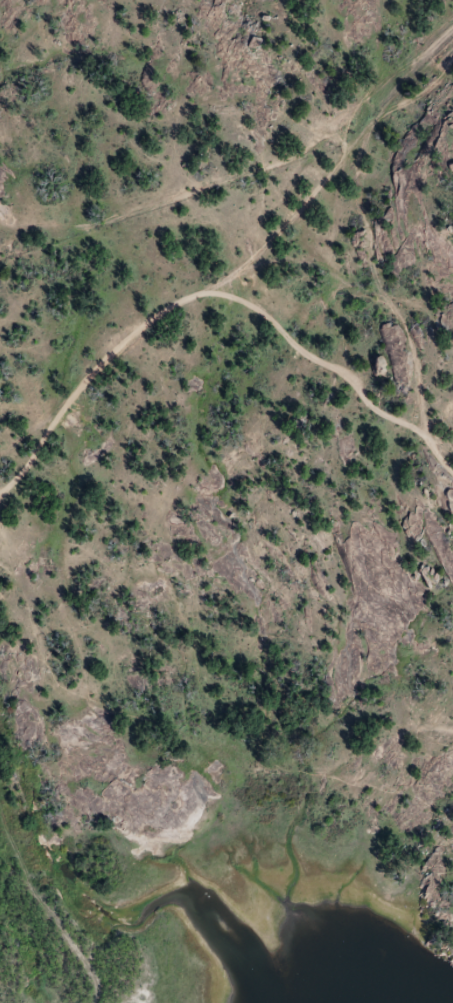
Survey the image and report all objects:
road: (408, 284)
road: (330, 294)
road: (101, 363)

